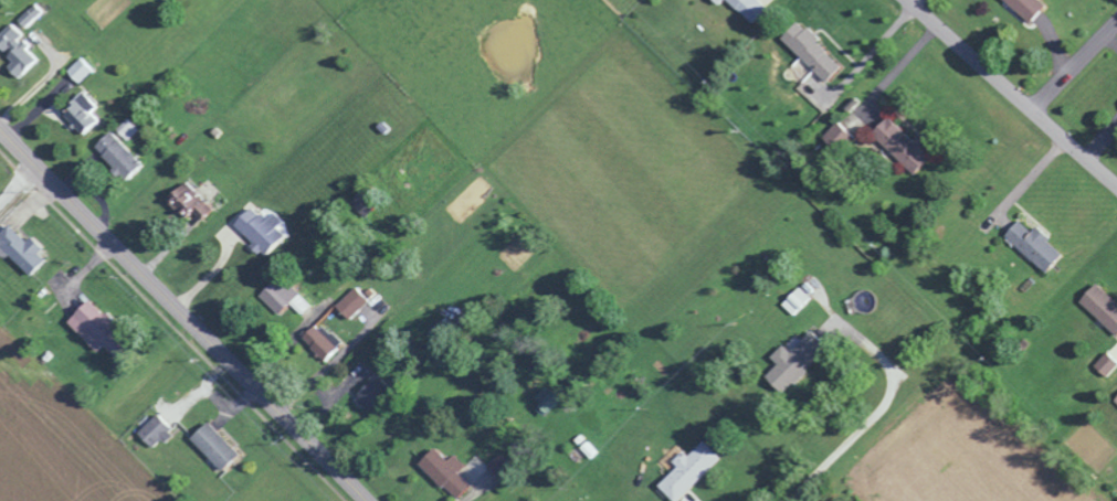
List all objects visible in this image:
building: (716, 1)
building: (1025, 7)
building: (748, 8)
building: (31, 17)
building: (809, 51)
building: (14, 52)
road: (1072, 64)
building: (78, 68)
road: (1012, 93)
building: (81, 114)
building: (898, 145)
building: (116, 154)
building: (187, 201)
building: (360, 203)
building: (259, 228)
building: (1033, 245)
building: (20, 249)
building: (282, 297)
building: (795, 300)
building: (350, 302)
building: (1100, 307)
road: (180, 317)
building: (92, 330)
building: (318, 341)
building: (790, 364)
building: (1105, 364)
building: (1115, 398)
building: (544, 399)
road: (861, 427)
building: (154, 431)
building: (212, 445)
building: (686, 470)
building: (444, 472)

